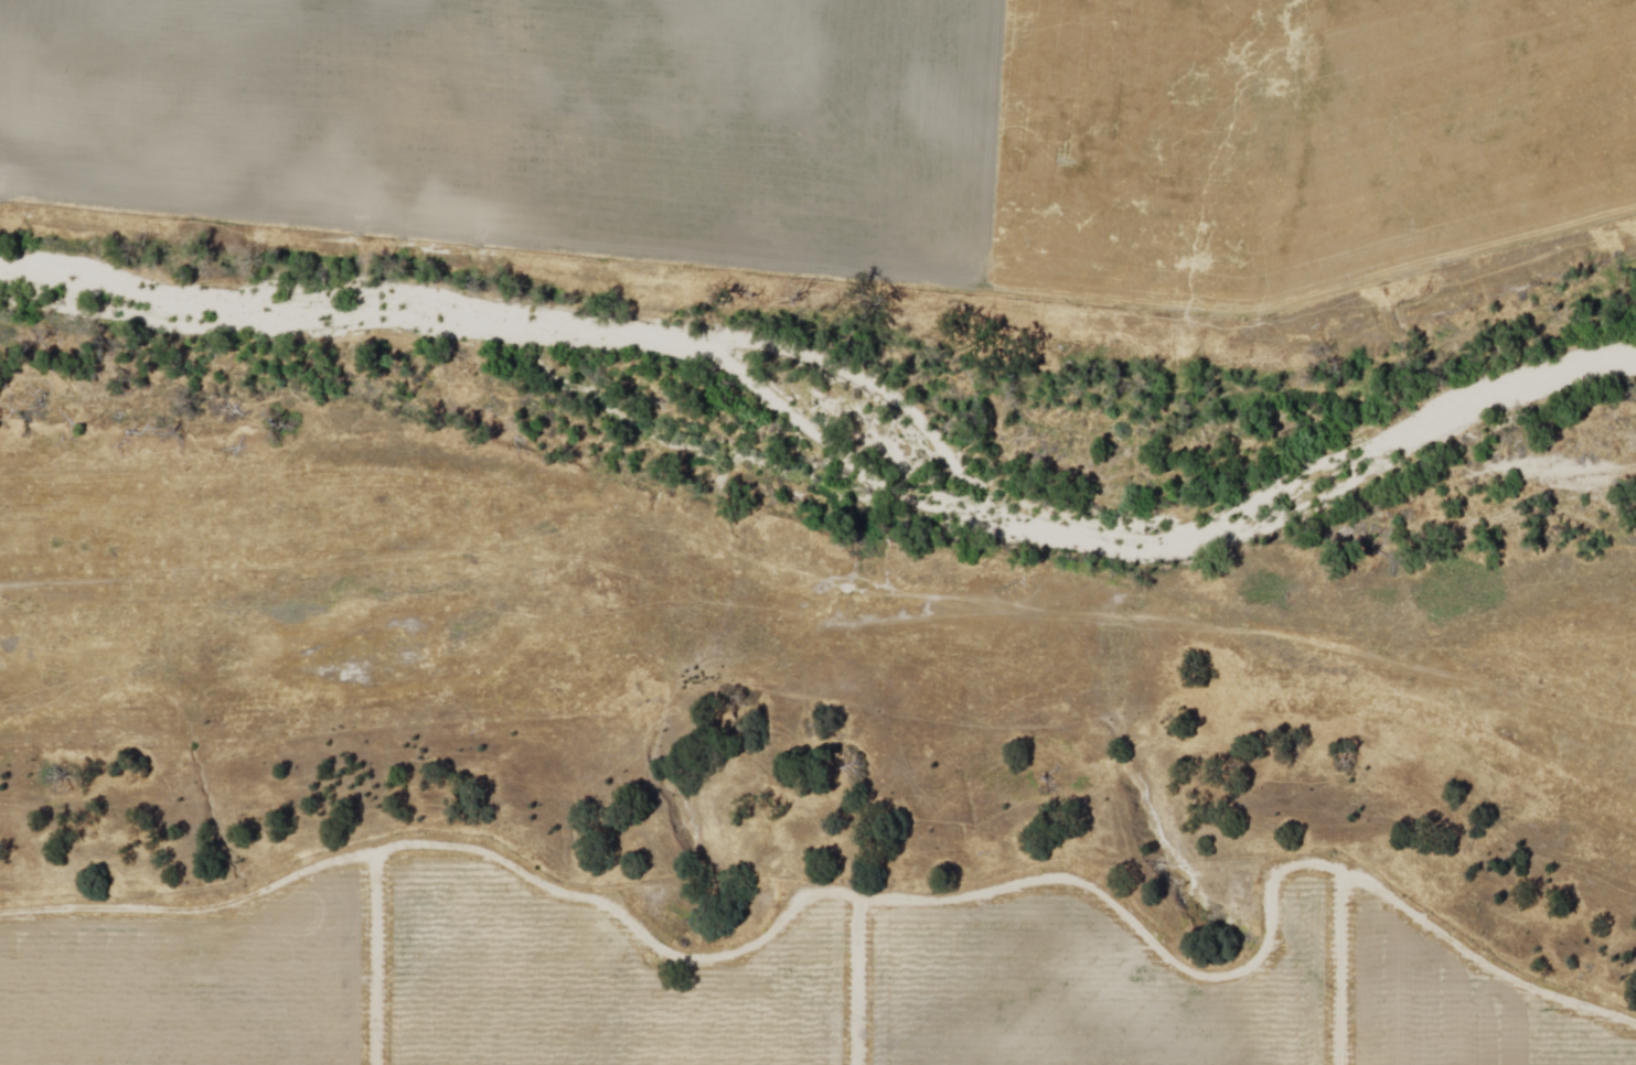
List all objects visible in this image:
crop: (853, 123)
river: (824, 437)
road: (865, 900)
road: (377, 958)
road: (1343, 968)
road: (860, 982)

